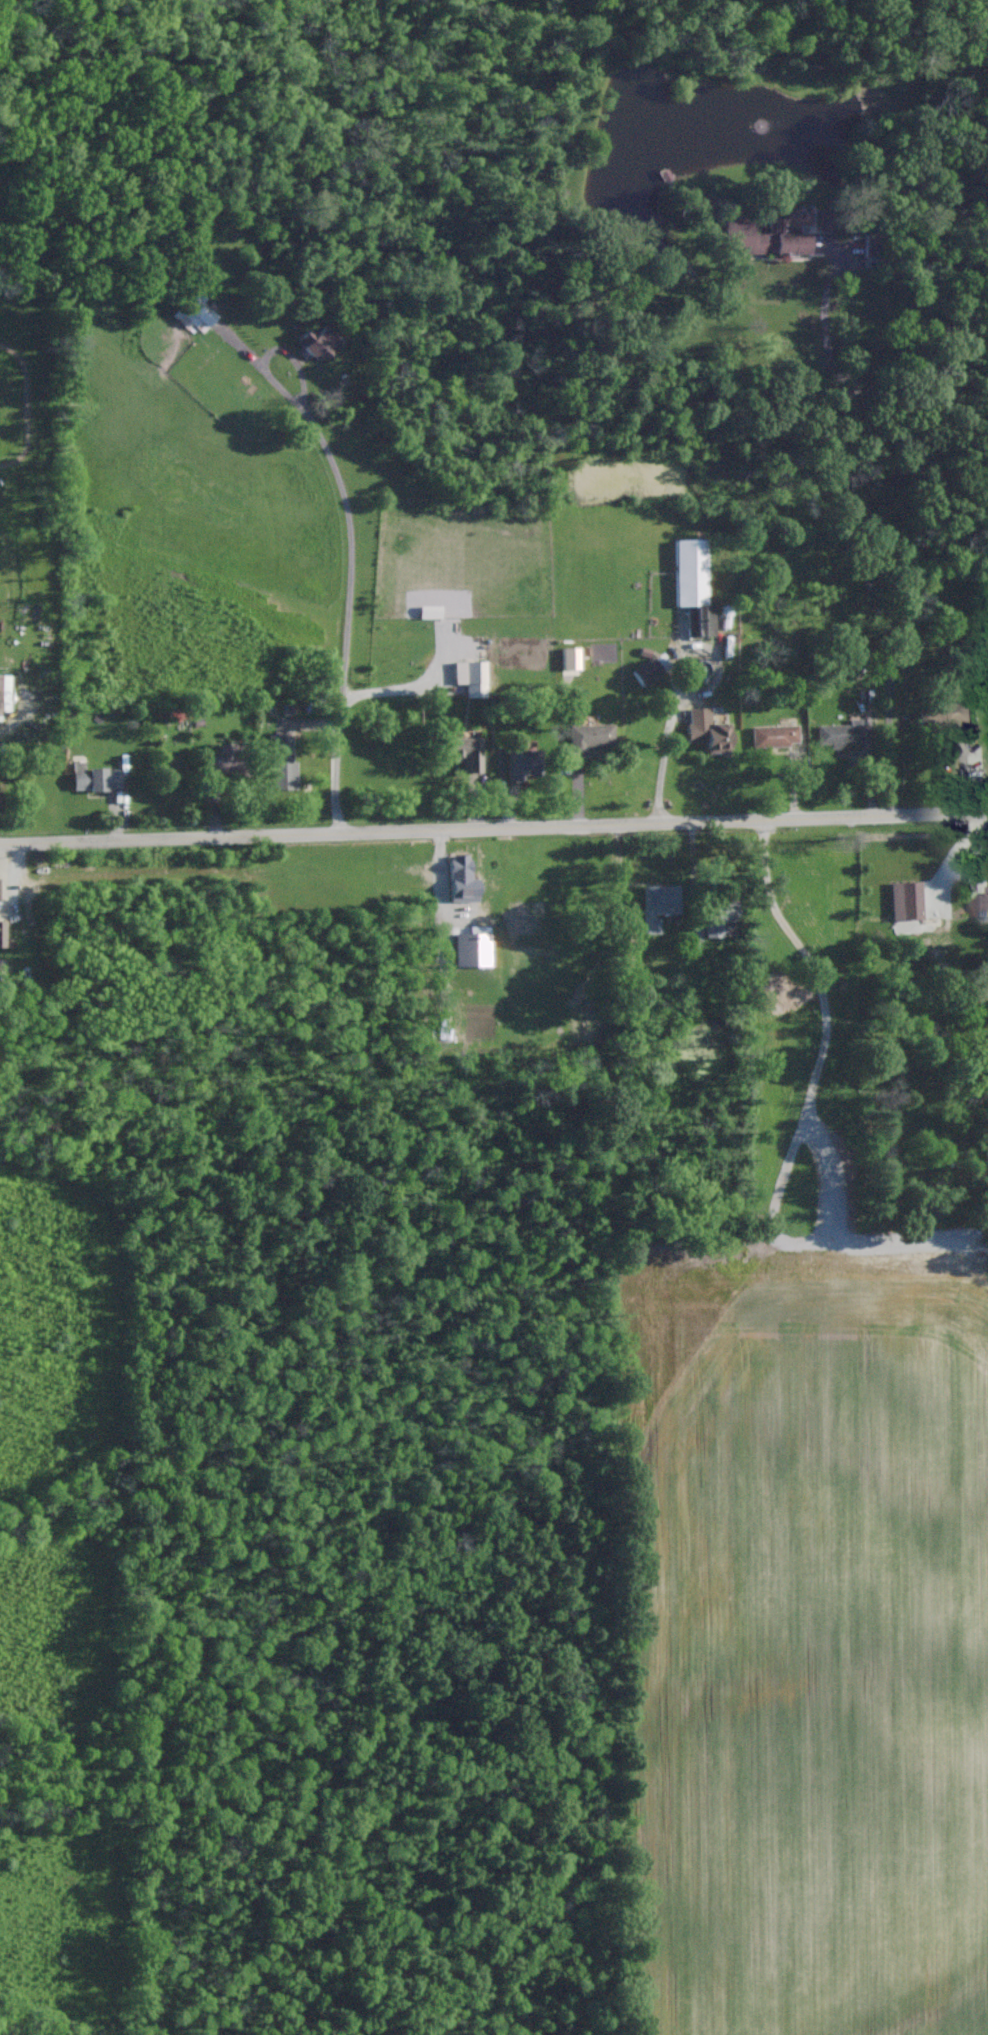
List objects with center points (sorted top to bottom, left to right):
building: (763, 237)
building: (195, 313)
building: (316, 340)
road: (881, 522)
road: (354, 558)
building: (694, 583)
building: (571, 658)
building: (651, 669)
building: (471, 677)
road: (393, 690)
building: (4, 693)
building: (943, 717)
building: (707, 730)
building: (842, 734)
building: (775, 735)
building: (589, 737)
building: (461, 751)
building: (229, 760)
building: (284, 762)
building: (523, 762)
road: (663, 762)
building: (94, 777)
road: (493, 826)
building: (462, 879)
building: (906, 900)
building: (661, 905)
building: (983, 905)
building: (719, 915)
building: (2, 933)
building: (471, 949)
building: (2, 966)
road: (804, 1120)

